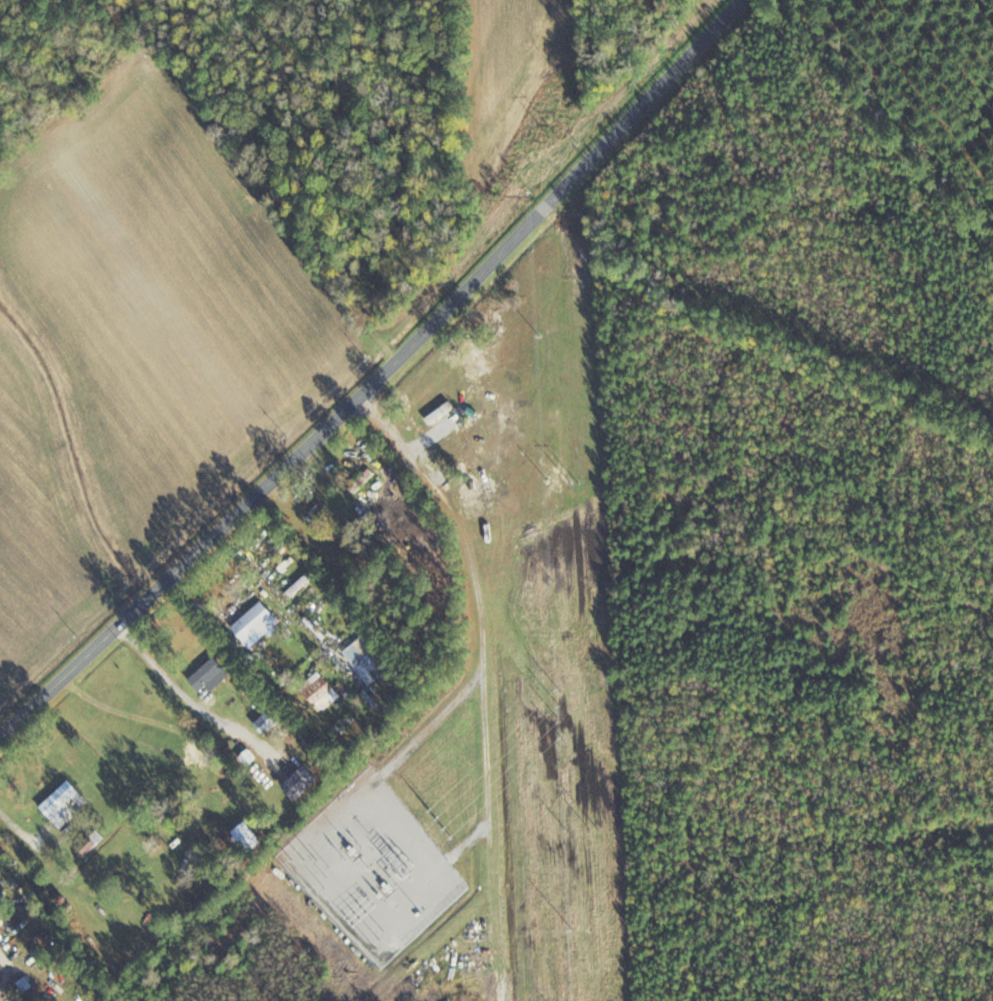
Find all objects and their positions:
power tower: (557, 136)
road: (378, 371)
power tower: (575, 481)
building: (370, 557)
building: (261, 623)
building: (371, 659)
building: (211, 673)
building: (324, 691)
road: (184, 694)
building: (271, 721)
building: (66, 804)
road: (16, 824)
power tower: (596, 828)
building: (253, 838)
building: (15, 917)
road: (4, 962)

